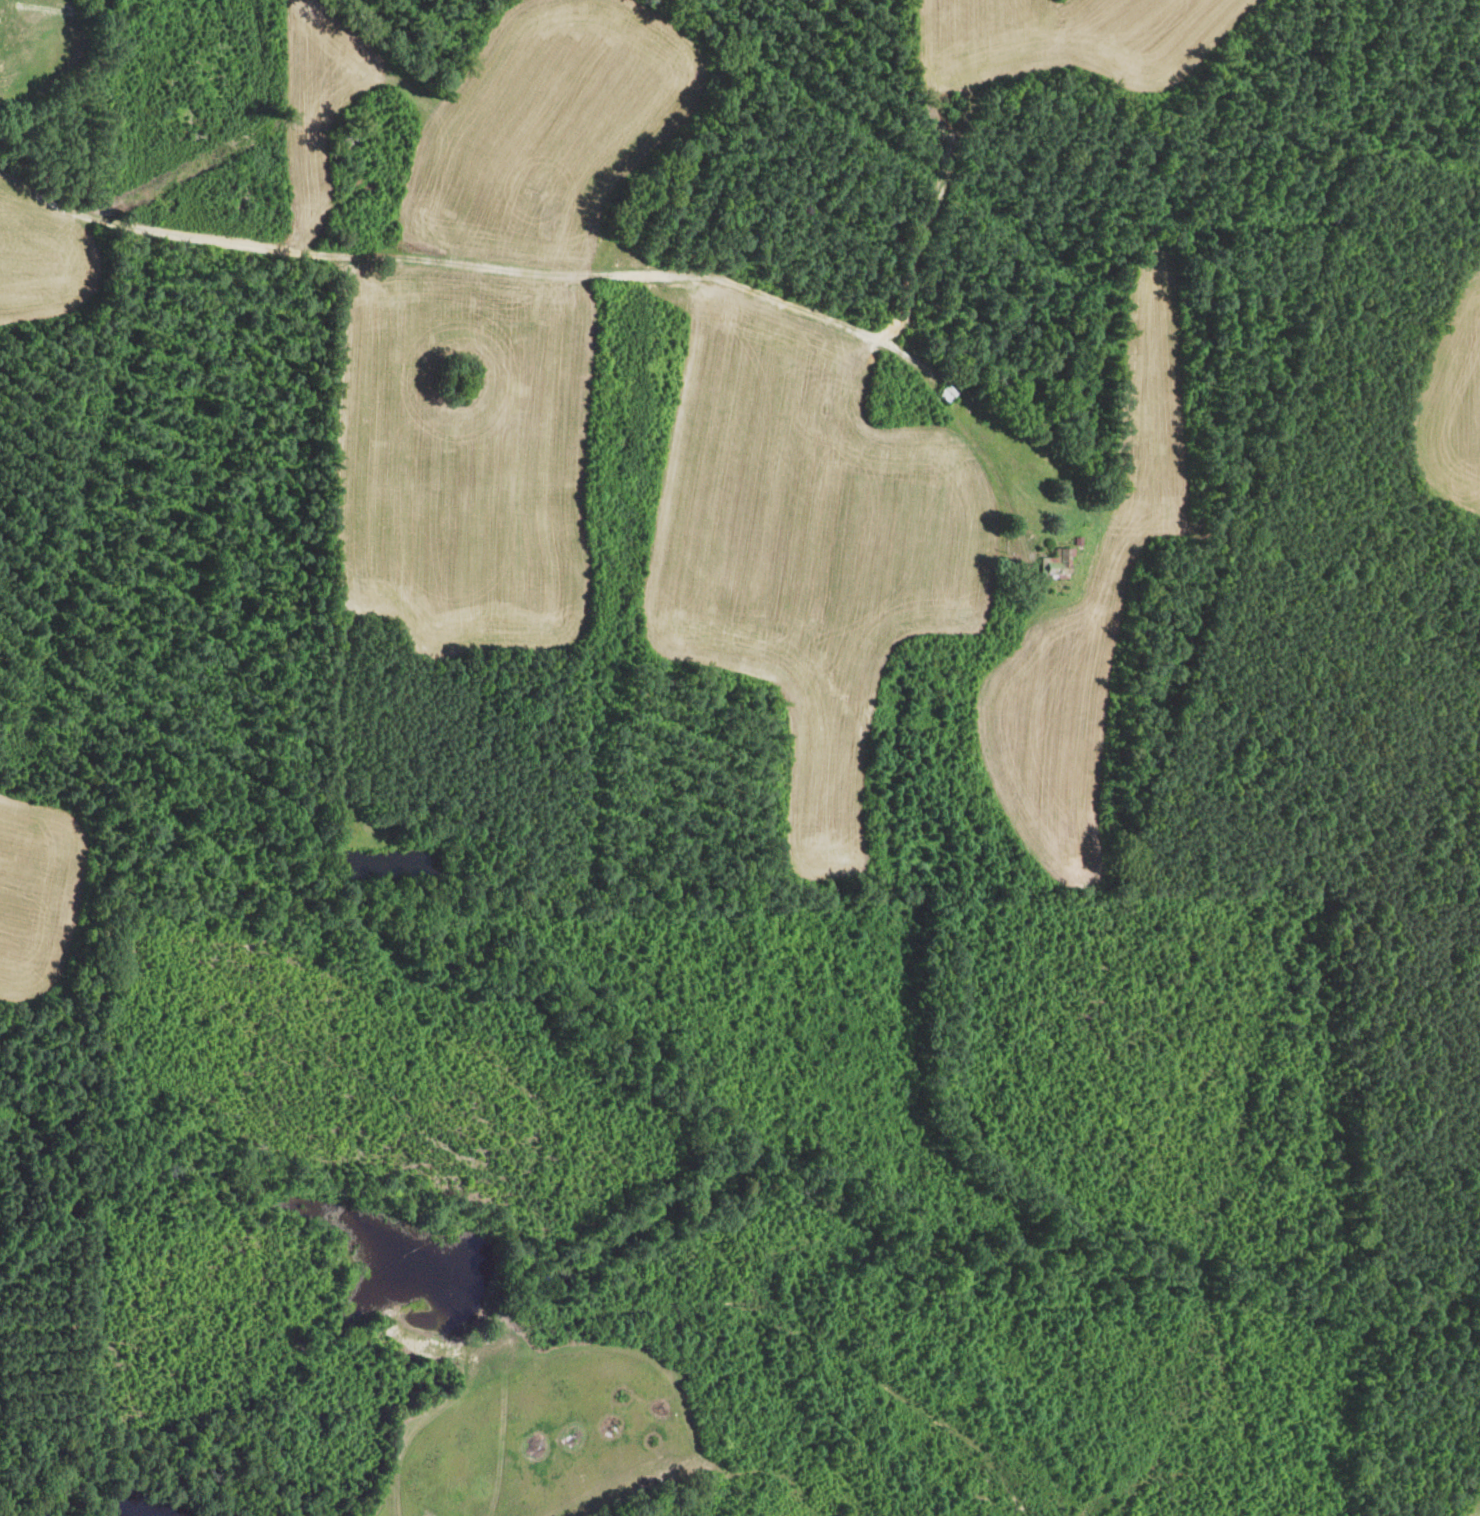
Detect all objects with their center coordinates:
road: (773, 336)
building: (1055, 566)

